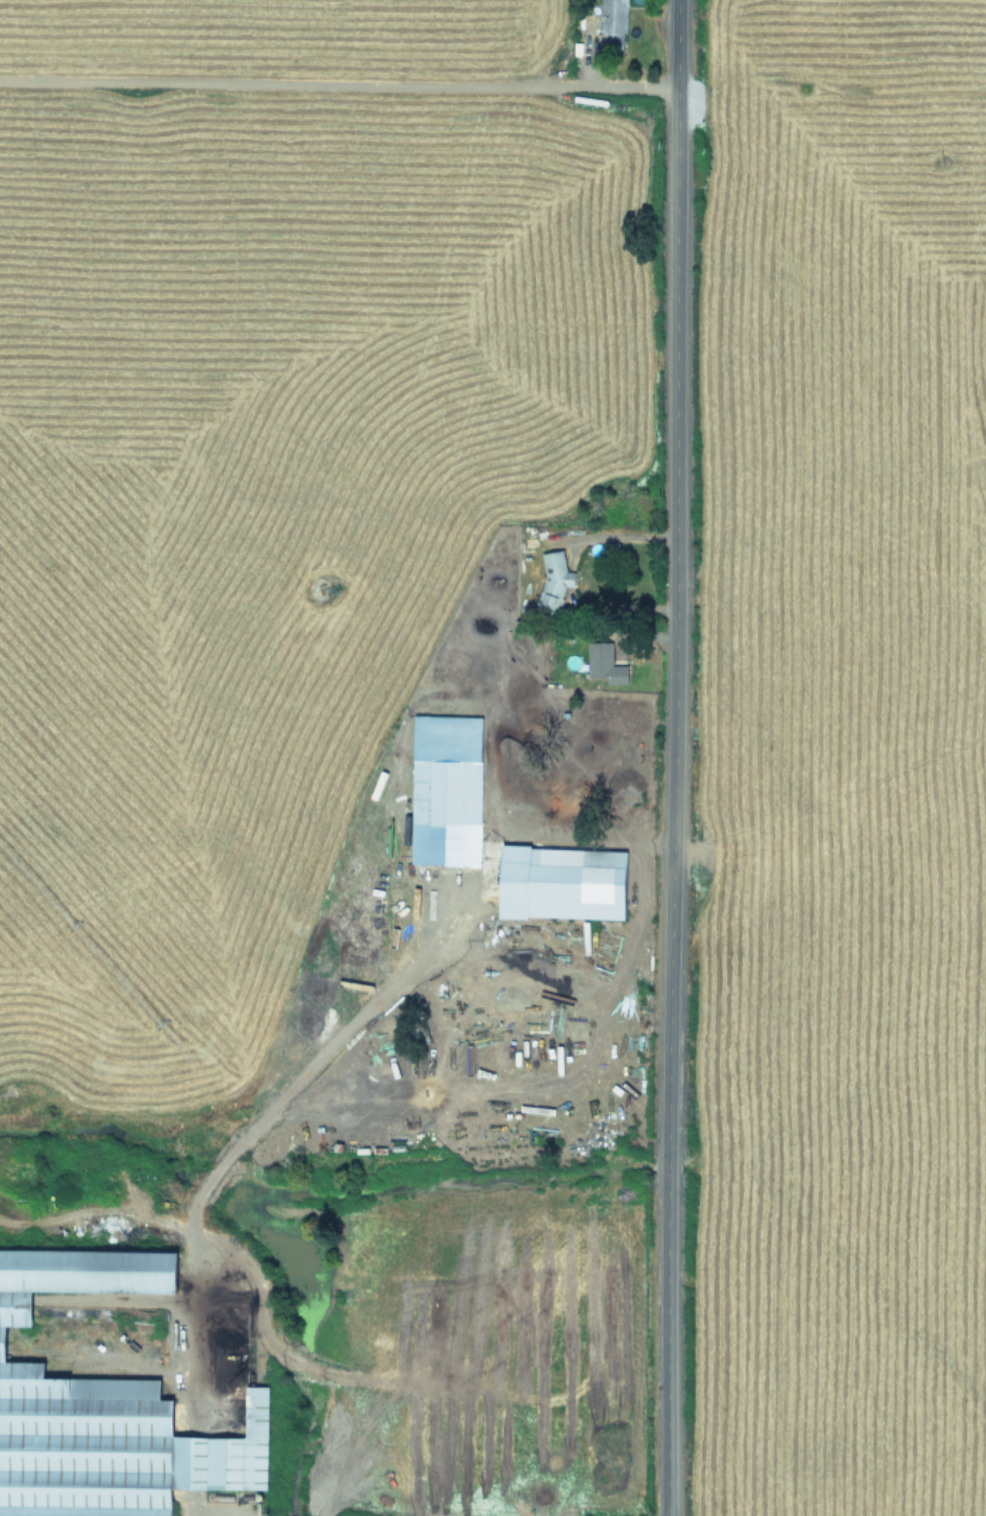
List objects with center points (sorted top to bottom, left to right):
building: (613, 15)
road: (335, 90)
building: (553, 576)
building: (603, 663)
crop: (313, 755)
road: (662, 757)
crop: (845, 761)
building: (444, 790)
building: (559, 882)

